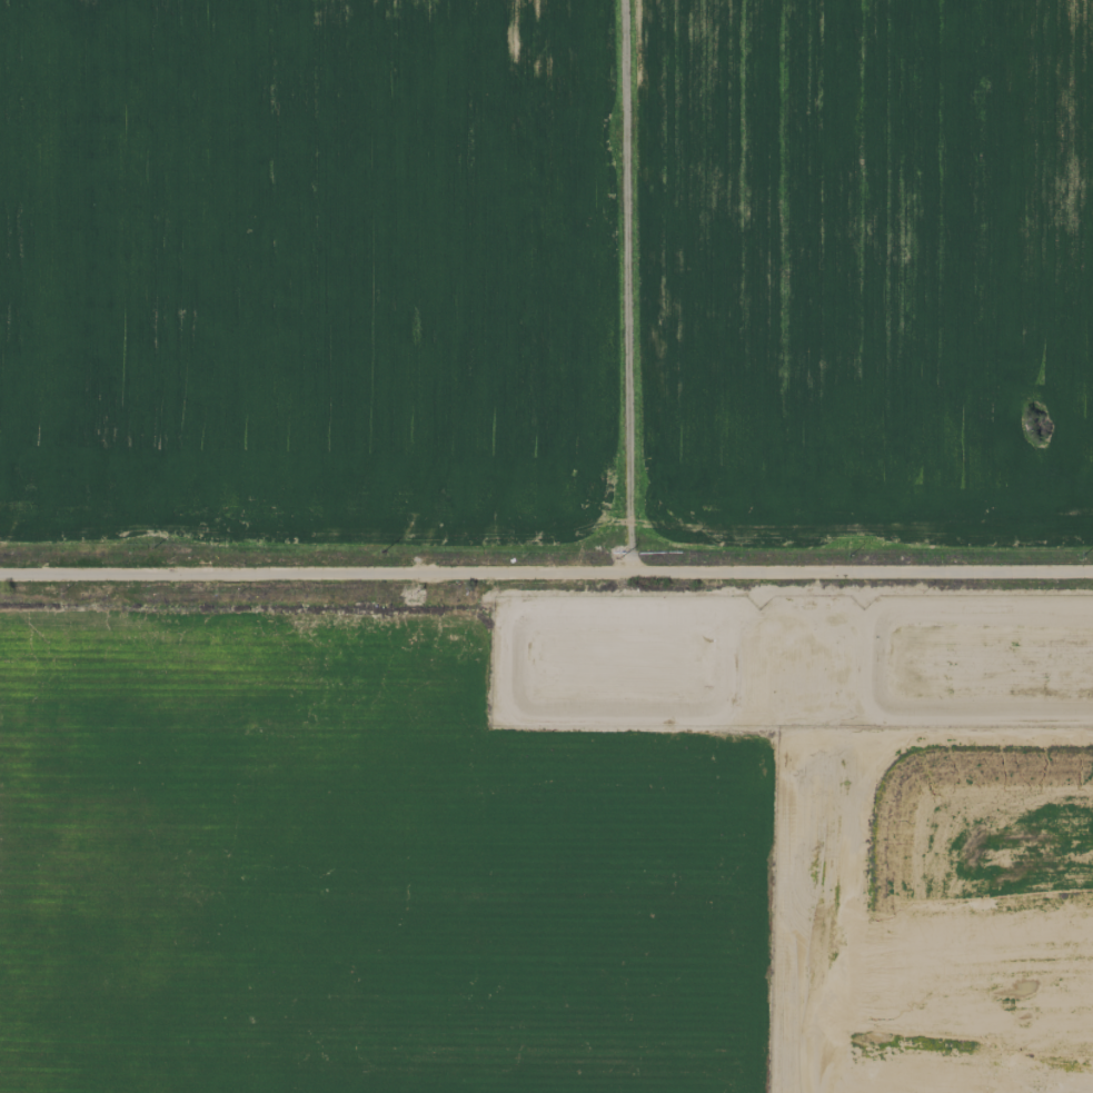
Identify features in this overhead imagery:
road: (626, 282)
road: (546, 567)

